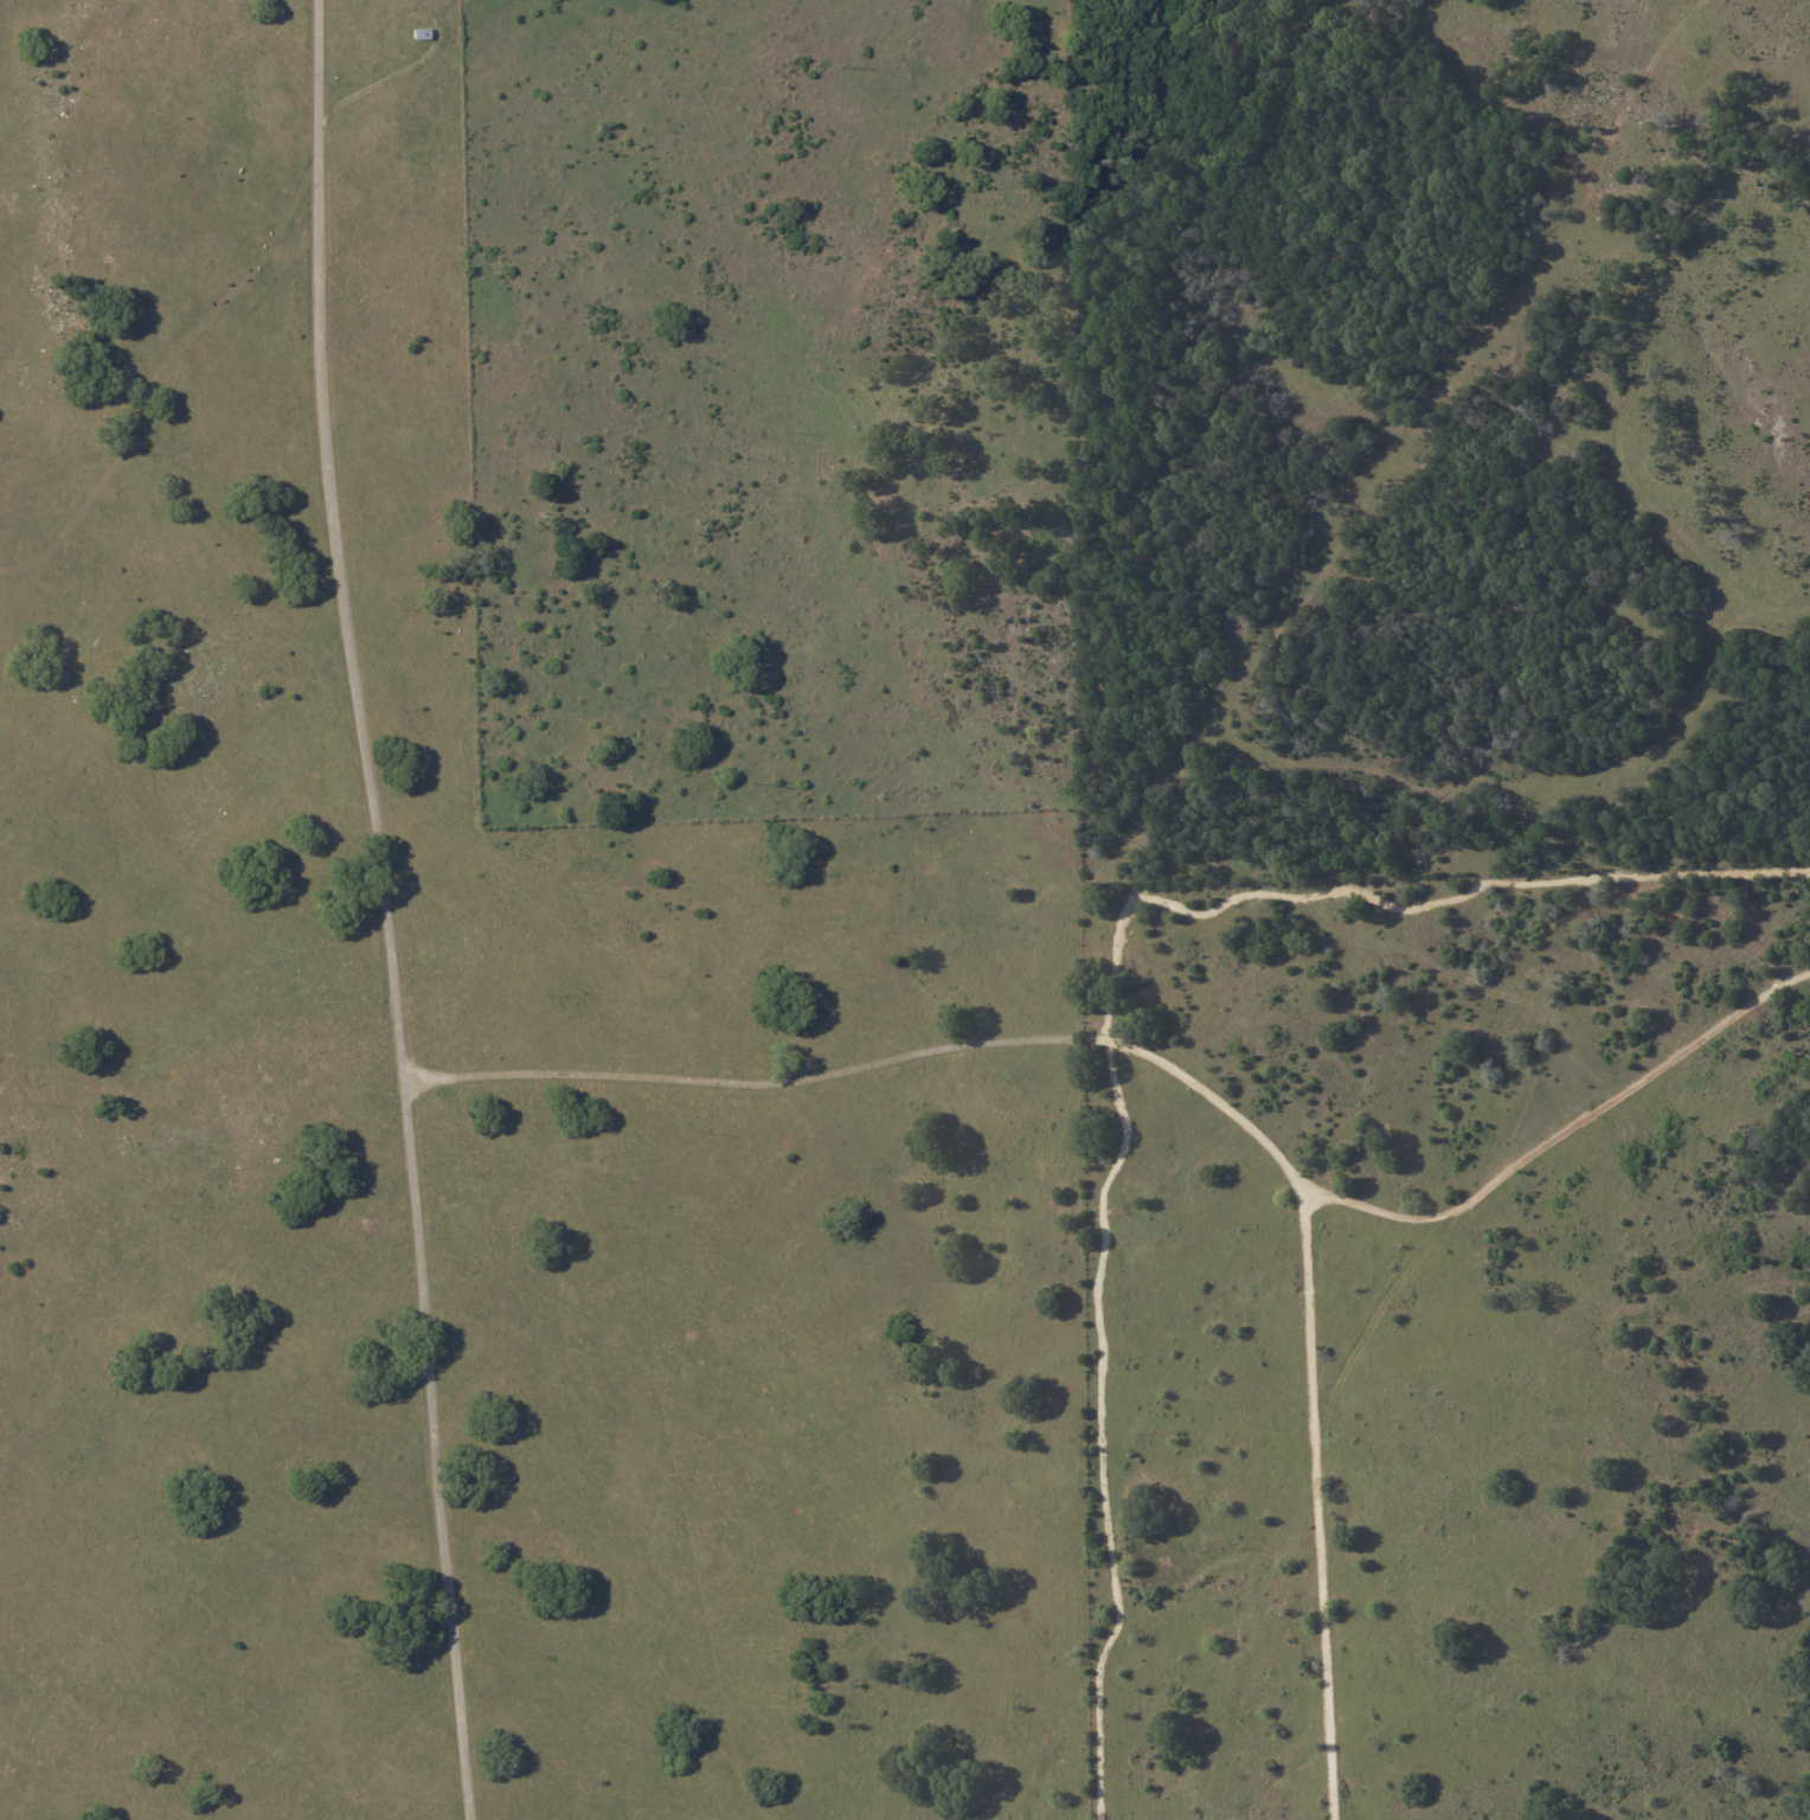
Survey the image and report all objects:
building: (423, 34)
road: (402, 909)
road: (1194, 1084)

